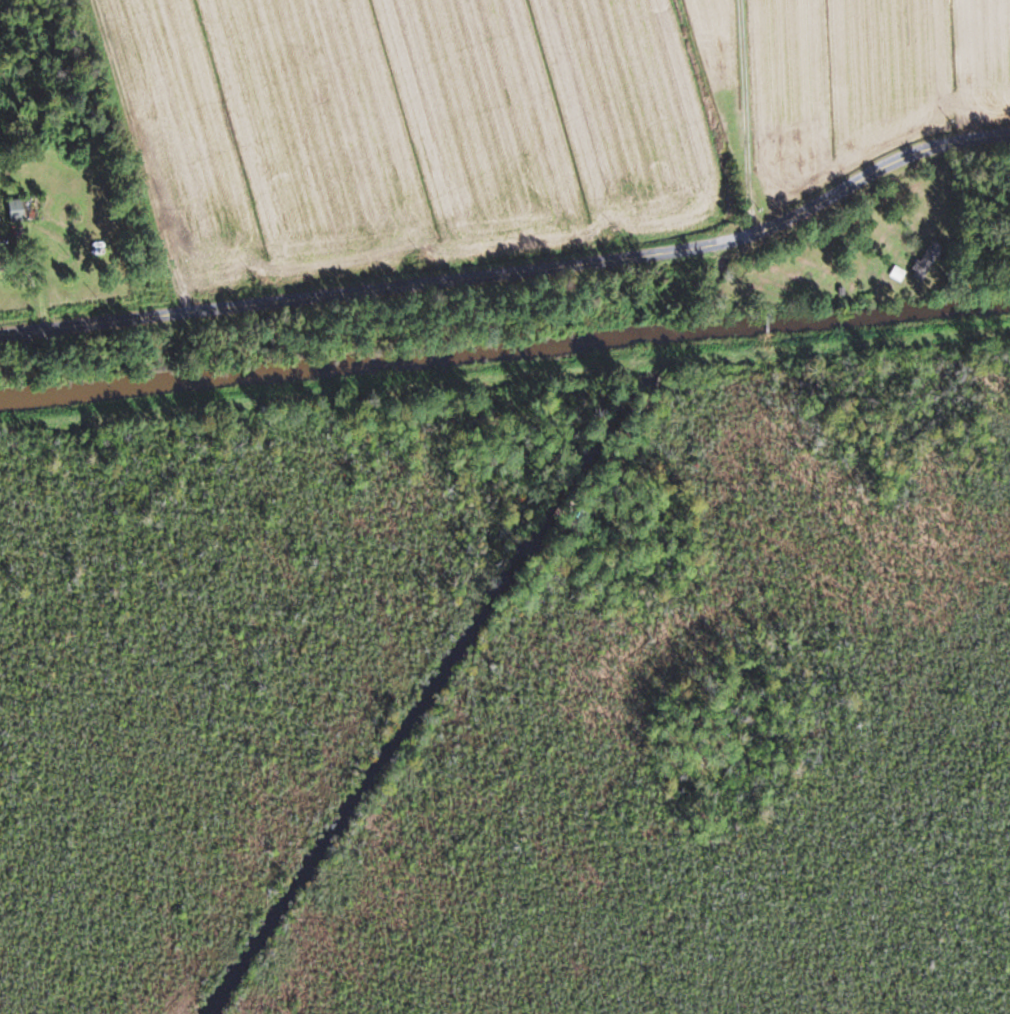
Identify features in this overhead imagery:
crop: (711, 37)
crop: (864, 77)
crop: (402, 128)
building: (28, 208)
building: (924, 259)
road: (515, 275)

